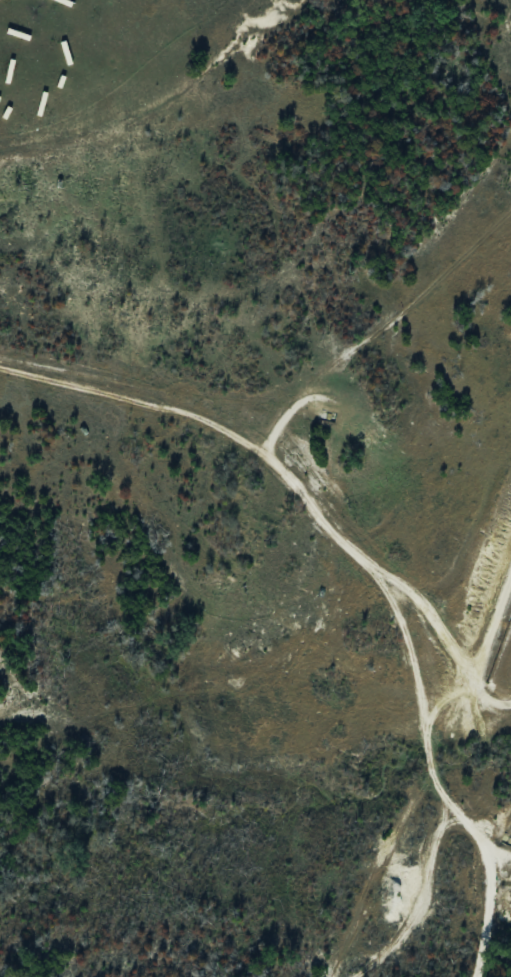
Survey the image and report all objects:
railway: (496, 636)

